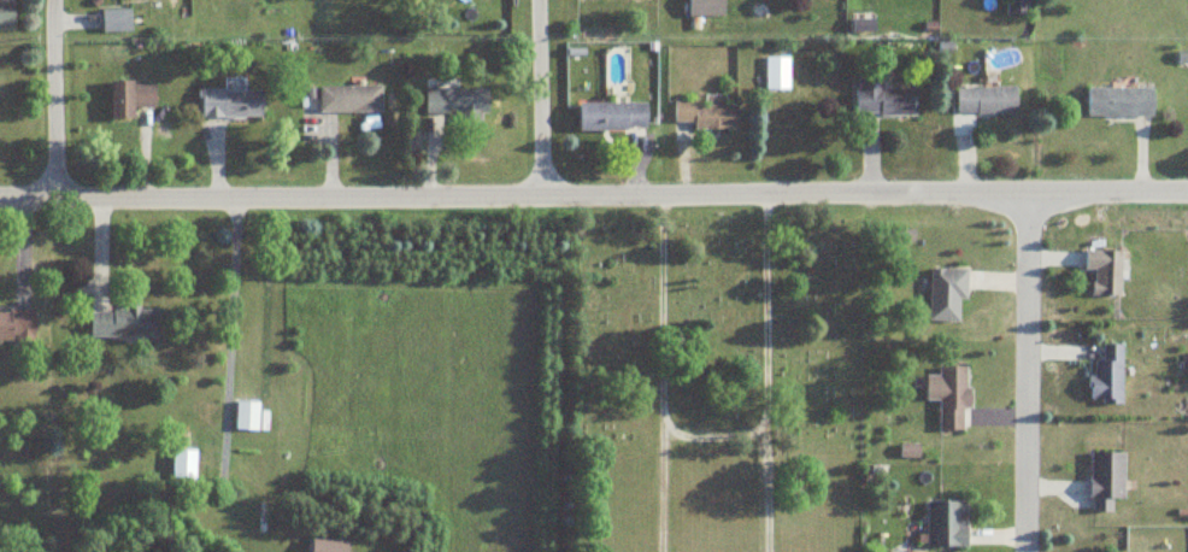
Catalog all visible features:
building: (704, 7)
building: (1014, 7)
building: (5, 14)
building: (113, 20)
building: (775, 74)
road: (543, 95)
road: (59, 96)
building: (129, 96)
building: (347, 98)
building: (881, 98)
building: (983, 100)
building: (451, 101)
building: (1117, 102)
building: (229, 104)
building: (705, 114)
building: (610, 117)
road: (593, 190)
building: (1101, 271)
building: (943, 293)
building: (120, 323)
building: (16, 324)
road: (658, 370)
road: (763, 370)
road: (1023, 370)
building: (1105, 375)
park: (717, 377)
building: (951, 397)
building: (245, 416)
road: (711, 436)
building: (182, 464)
building: (1104, 474)
building: (943, 523)
building: (325, 546)

